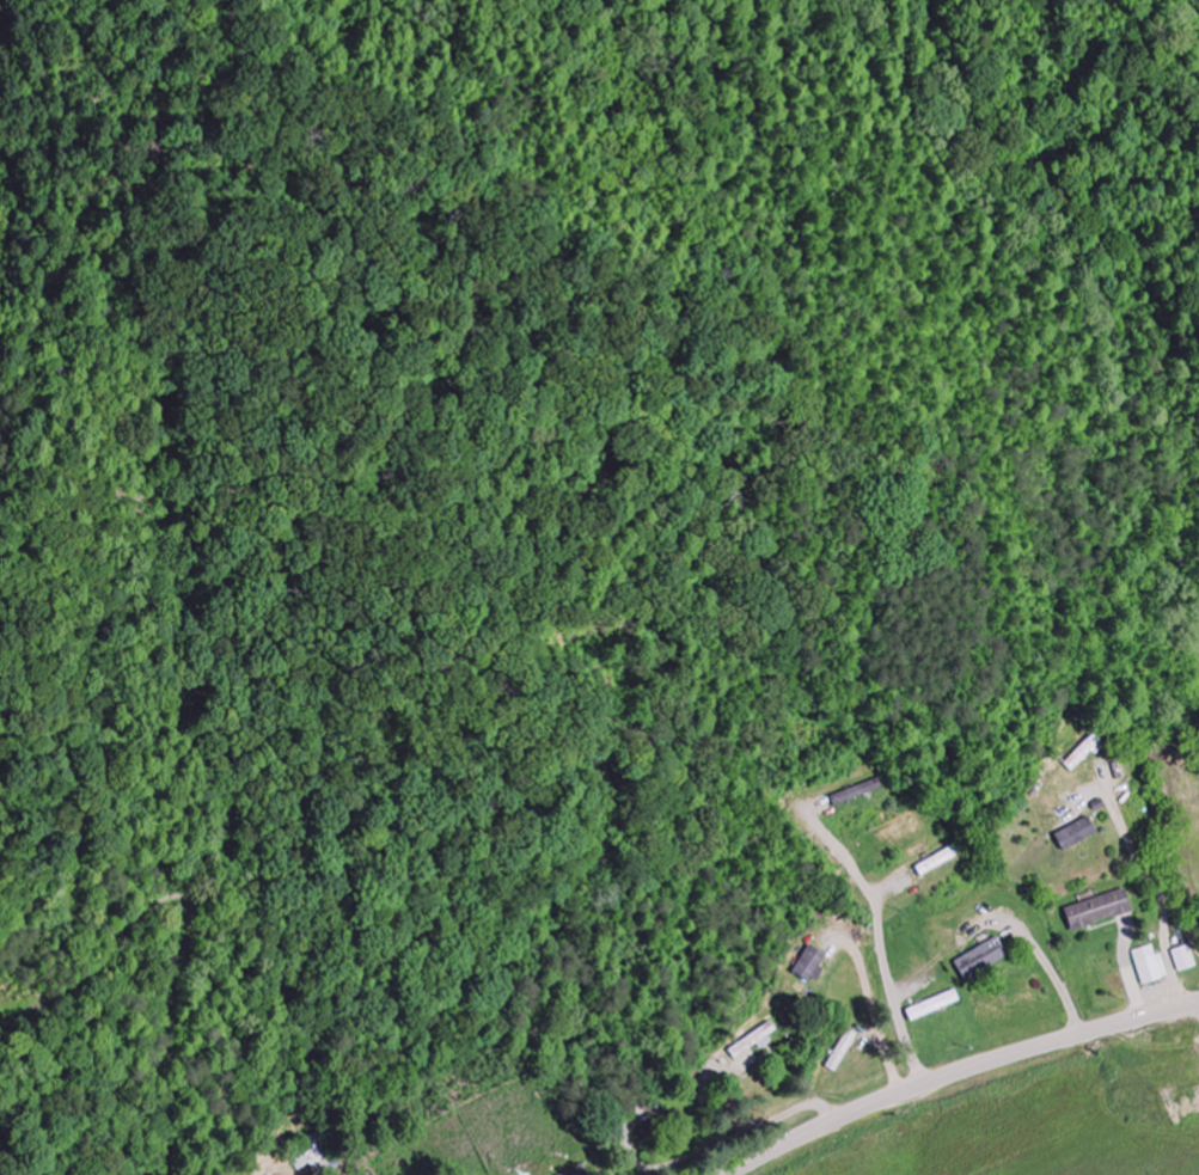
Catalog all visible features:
building: (1085, 753)
building: (857, 794)
building: (1077, 836)
building: (1100, 911)
building: (983, 960)
building: (1186, 960)
building: (810, 965)
building: (1151, 966)
building: (935, 1006)
building: (756, 1042)
road: (959, 1072)
building: (319, 1157)
building: (576, 1173)

